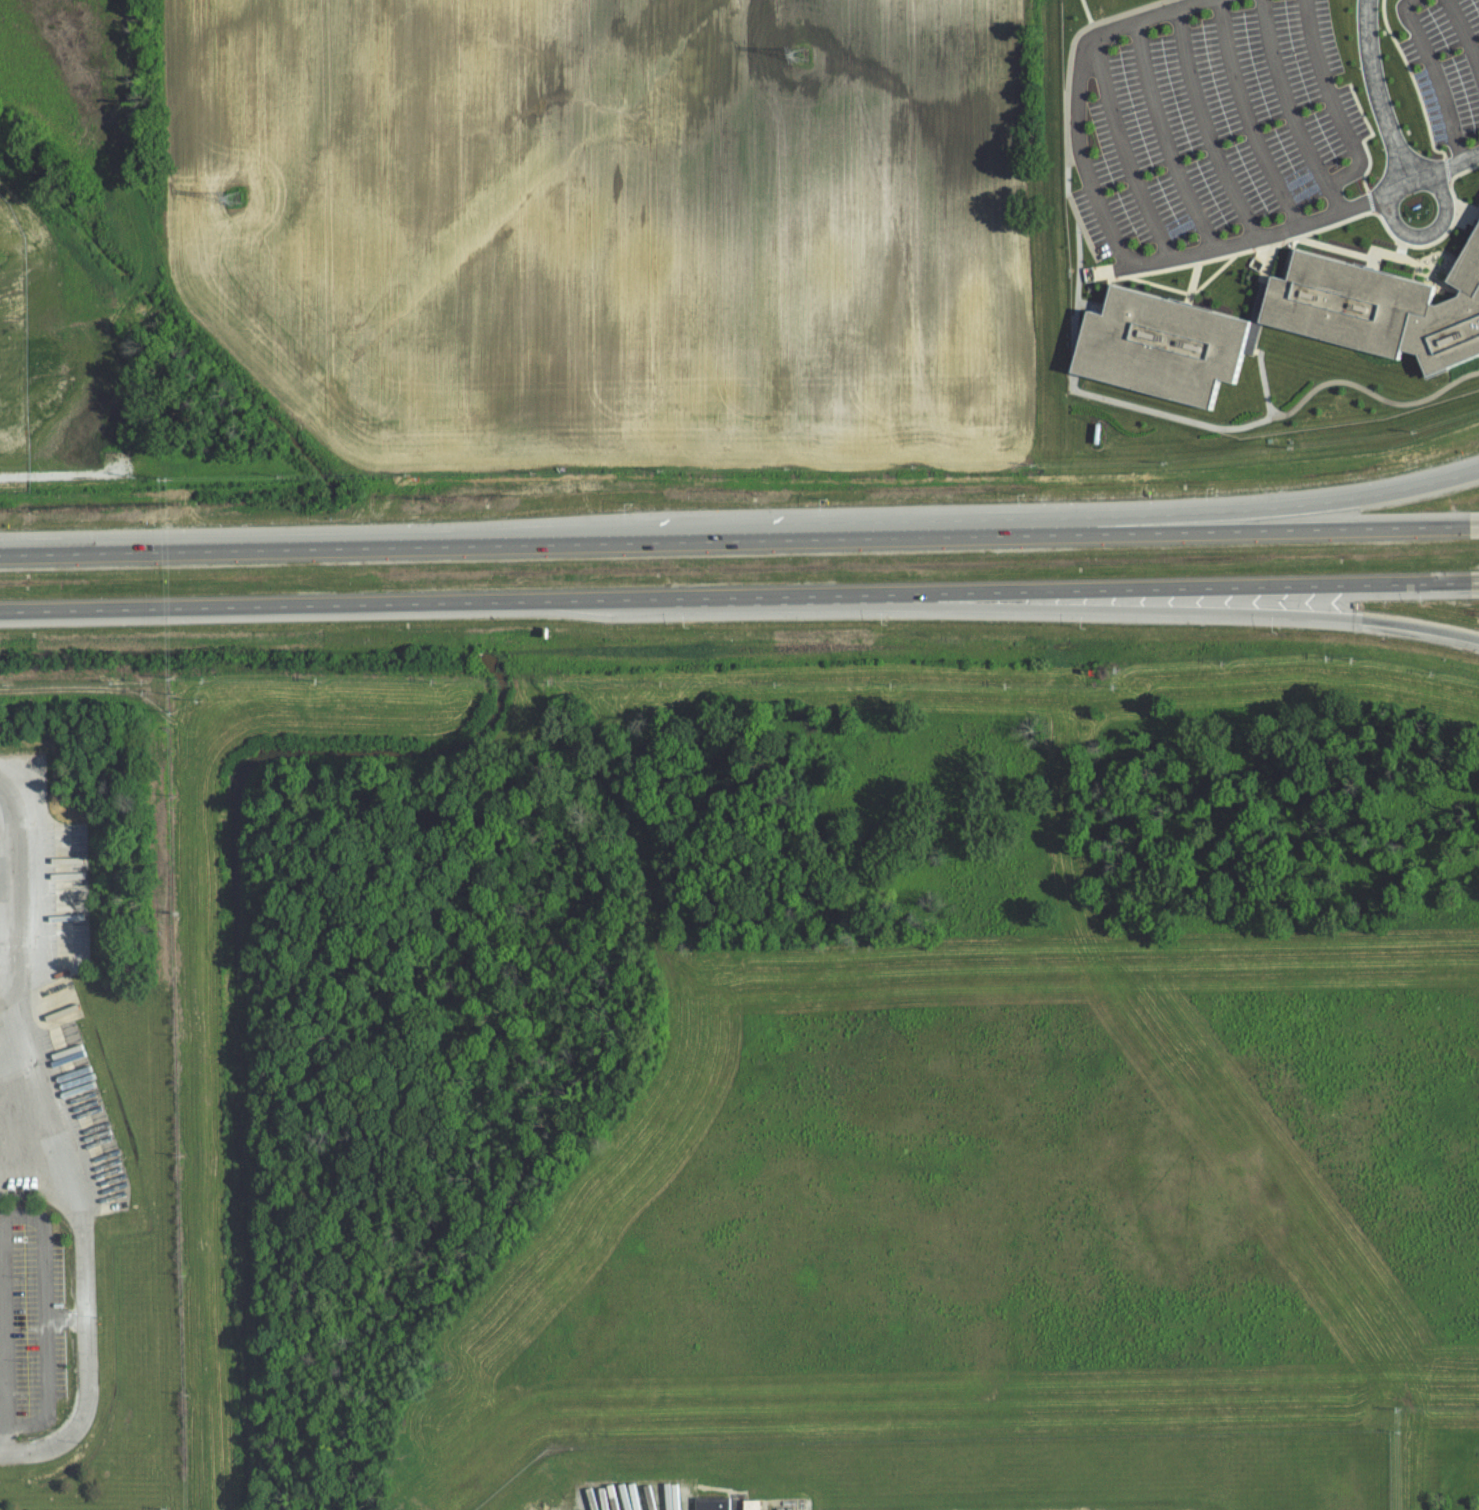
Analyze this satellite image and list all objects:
road: (1462, 36)
power tower: (801, 56)
parking lot: (1443, 69)
road: (1439, 77)
road: (1382, 87)
road: (1334, 104)
road: (1289, 108)
road: (1246, 117)
parking lot: (1255, 120)
road: (1203, 130)
road: (1122, 150)
road: (129, 158)
road: (1454, 162)
road: (1085, 173)
road: (1180, 184)
power tower: (235, 200)
road: (1422, 234)
building: (1468, 267)
building: (1347, 303)
road: (1251, 513)
road: (739, 539)
road: (739, 597)
road: (1147, 609)
road: (31, 1148)
road: (21, 1215)
road: (63, 1318)
road: (3, 1379)
road: (3, 1416)
building: (710, 1503)
building: (748, 1504)

